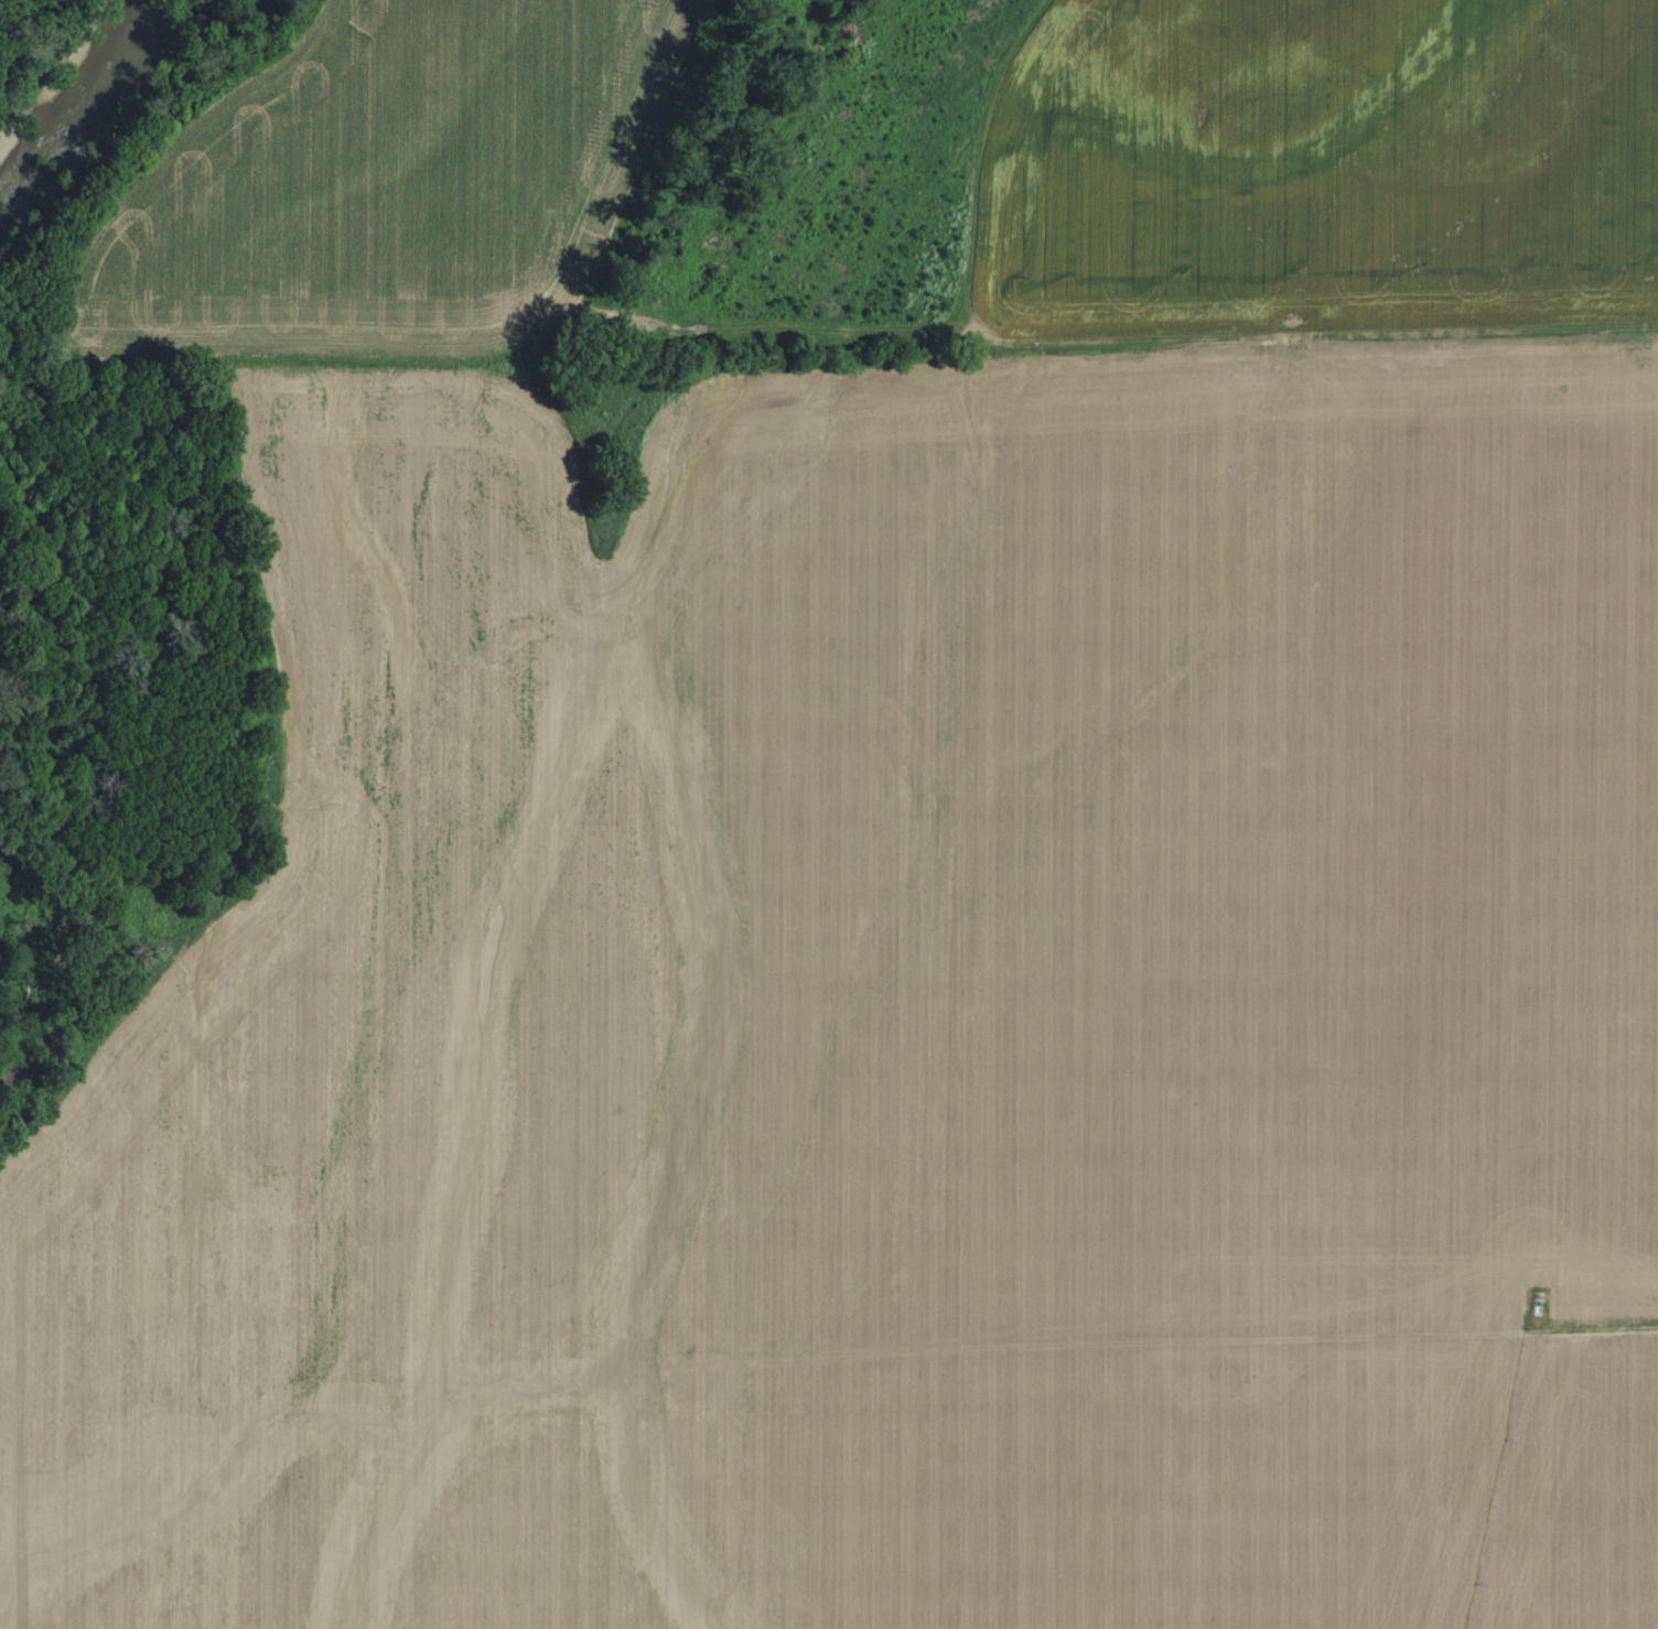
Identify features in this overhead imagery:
river: (93, 107)

